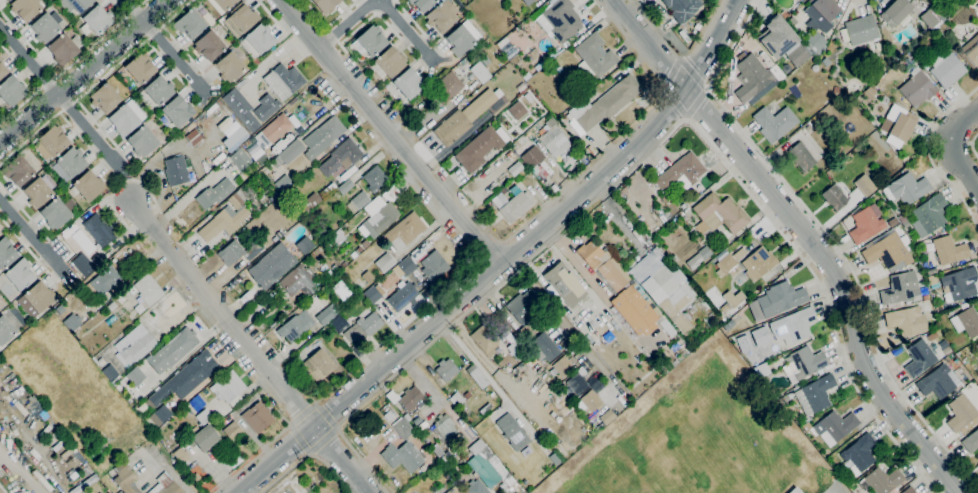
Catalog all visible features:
building: (5, 0)
building: (7, 0)
building: (797, 0)
building: (527, 2)
building: (422, 4)
building: (75, 5)
building: (221, 5)
building: (325, 5)
building: (976, 6)
building: (25, 8)
building: (682, 8)
building: (820, 13)
building: (897, 13)
road: (269, 14)
building: (783, 14)
building: (441, 16)
building: (933, 17)
building: (97, 19)
building: (240, 19)
building: (562, 20)
building: (190, 24)
road: (348, 24)
road: (284, 25)
road: (324, 25)
building: (697, 26)
building: (45, 27)
road: (655, 28)
road: (410, 30)
building: (862, 33)
building: (462, 38)
building: (257, 41)
building: (370, 41)
building: (502, 43)
building: (816, 44)
road: (164, 46)
building: (209, 46)
building: (64, 48)
building: (970, 53)
building: (796, 54)
building: (593, 56)
building: (0, 59)
building: (500, 59)
building: (486, 60)
road: (73, 61)
building: (825, 62)
building: (388, 63)
building: (229, 67)
building: (140, 68)
building: (946, 69)
building: (2, 70)
building: (559, 70)
road: (671, 71)
road: (693, 71)
road: (84, 72)
building: (480, 73)
building: (751, 78)
building: (283, 81)
road: (96, 83)
building: (409, 83)
building: (879, 85)
building: (446, 87)
building: (917, 88)
building: (836, 89)
building: (159, 90)
building: (11, 91)
building: (105, 98)
building: (884, 100)
road: (675, 102)
road: (696, 102)
building: (602, 105)
building: (266, 108)
building: (241, 109)
building: (517, 110)
building: (177, 111)
road: (72, 112)
building: (469, 116)
building: (123, 120)
building: (774, 123)
building: (898, 126)
building: (273, 131)
building: (298, 131)
road: (387, 133)
building: (322, 137)
road: (623, 137)
building: (194, 138)
building: (234, 138)
building: (52, 142)
building: (142, 142)
building: (554, 142)
road: (972, 145)
building: (477, 148)
road: (952, 148)
road: (650, 149)
building: (590, 150)
building: (288, 153)
road: (929, 154)
building: (510, 155)
building: (801, 156)
building: (341, 157)
building: (532, 157)
building: (240, 159)
building: (262, 160)
building: (69, 164)
building: (515, 169)
building: (17, 171)
building: (178, 171)
building: (681, 172)
building: (375, 179)
building: (283, 183)
road: (119, 185)
building: (864, 185)
building: (60, 186)
building: (86, 186)
building: (345, 187)
building: (906, 188)
building: (503, 190)
building: (39, 191)
building: (390, 193)
building: (214, 194)
building: (834, 196)
building: (309, 201)
building: (358, 202)
building: (515, 207)
building: (898, 210)
building: (56, 213)
building: (718, 215)
building: (929, 215)
building: (377, 217)
building: (685, 218)
building: (902, 219)
building: (224, 220)
building: (892, 222)
building: (590, 223)
building: (866, 224)
building: (99, 230)
building: (404, 231)
road: (806, 234)
road: (31, 236)
road: (828, 238)
building: (365, 244)
building: (304, 245)
building: (359, 249)
building: (944, 251)
building: (239, 252)
road: (484, 252)
building: (887, 252)
building: (6, 253)
building: (698, 258)
road: (502, 259)
building: (729, 262)
building: (343, 263)
building: (384, 263)
building: (758, 263)
building: (601, 264)
building: (83, 265)
building: (271, 265)
road: (547, 265)
building: (406, 266)
building: (433, 266)
building: (931, 271)
building: (19, 275)
building: (367, 277)
building: (931, 280)
building: (300, 282)
building: (100, 284)
building: (958, 284)
building: (565, 285)
building: (899, 288)
building: (664, 289)
building: (148, 290)
building: (372, 295)
building: (39, 297)
building: (402, 297)
building: (925, 297)
building: (780, 299)
building: (731, 300)
building: (964, 305)
building: (111, 306)
building: (522, 306)
building: (938, 308)
building: (635, 311)
building: (326, 315)
road: (561, 321)
building: (661, 321)
building: (906, 321)
building: (340, 322)
building: (966, 322)
building: (72, 323)
building: (728, 325)
building: (295, 326)
building: (792, 326)
building: (5, 330)
building: (362, 330)
building: (526, 332)
road: (394, 333)
building: (759, 336)
building: (931, 336)
building: (486, 340)
building: (134, 346)
building: (544, 346)
building: (976, 347)
road: (252, 349)
building: (515, 349)
building: (173, 350)
building: (918, 358)
road: (484, 360)
building: (98, 361)
building: (802, 364)
building: (318, 365)
building: (563, 367)
building: (762, 370)
building: (445, 371)
building: (110, 372)
building: (135, 376)
building: (477, 376)
road: (486, 376)
building: (184, 378)
building: (115, 379)
building: (938, 382)
building: (577, 383)
building: (228, 387)
road: (432, 393)
building: (467, 395)
building: (812, 395)
building: (457, 399)
building: (410, 400)
building: (590, 401)
building: (487, 407)
building: (35, 408)
road: (302, 412)
building: (960, 412)
road: (327, 413)
building: (159, 415)
building: (388, 415)
building: (607, 416)
building: (204, 417)
building: (257, 417)
building: (444, 427)
building: (836, 427)
building: (403, 428)
building: (232, 431)
building: (513, 432)
building: (205, 438)
road: (299, 439)
road: (323, 441)
building: (971, 441)
road: (255, 454)
building: (441, 454)
road: (307, 455)
building: (858, 455)
building: (402, 456)
building: (180, 457)
building: (487, 466)
building: (42, 480)
building: (126, 480)
building: (882, 480)
building: (84, 483)
road: (34, 485)
building: (165, 485)
building: (473, 489)
building: (454, 490)
building: (793, 490)
building: (909, 490)
building: (1, 491)
building: (108, 492)

